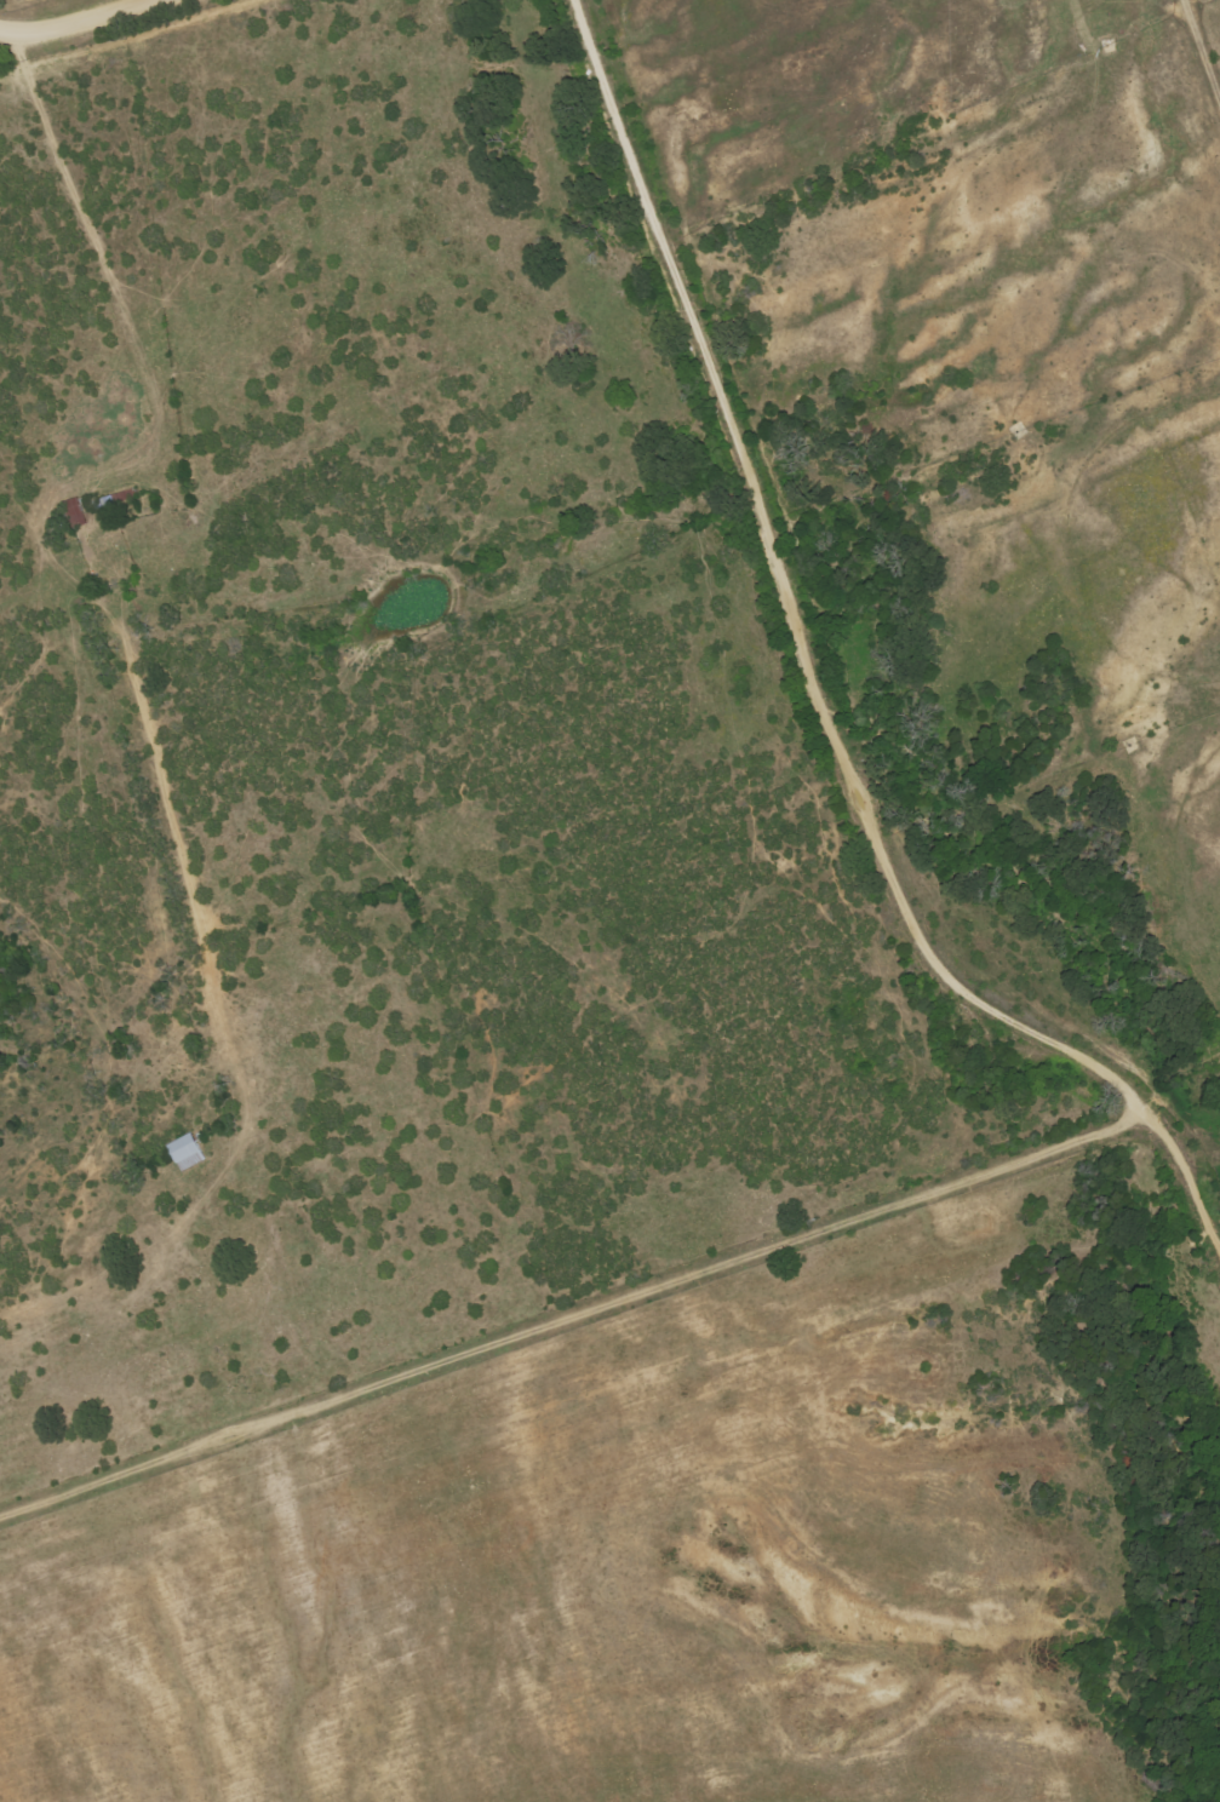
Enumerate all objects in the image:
road: (73, 24)
road: (813, 678)
building: (187, 1153)

